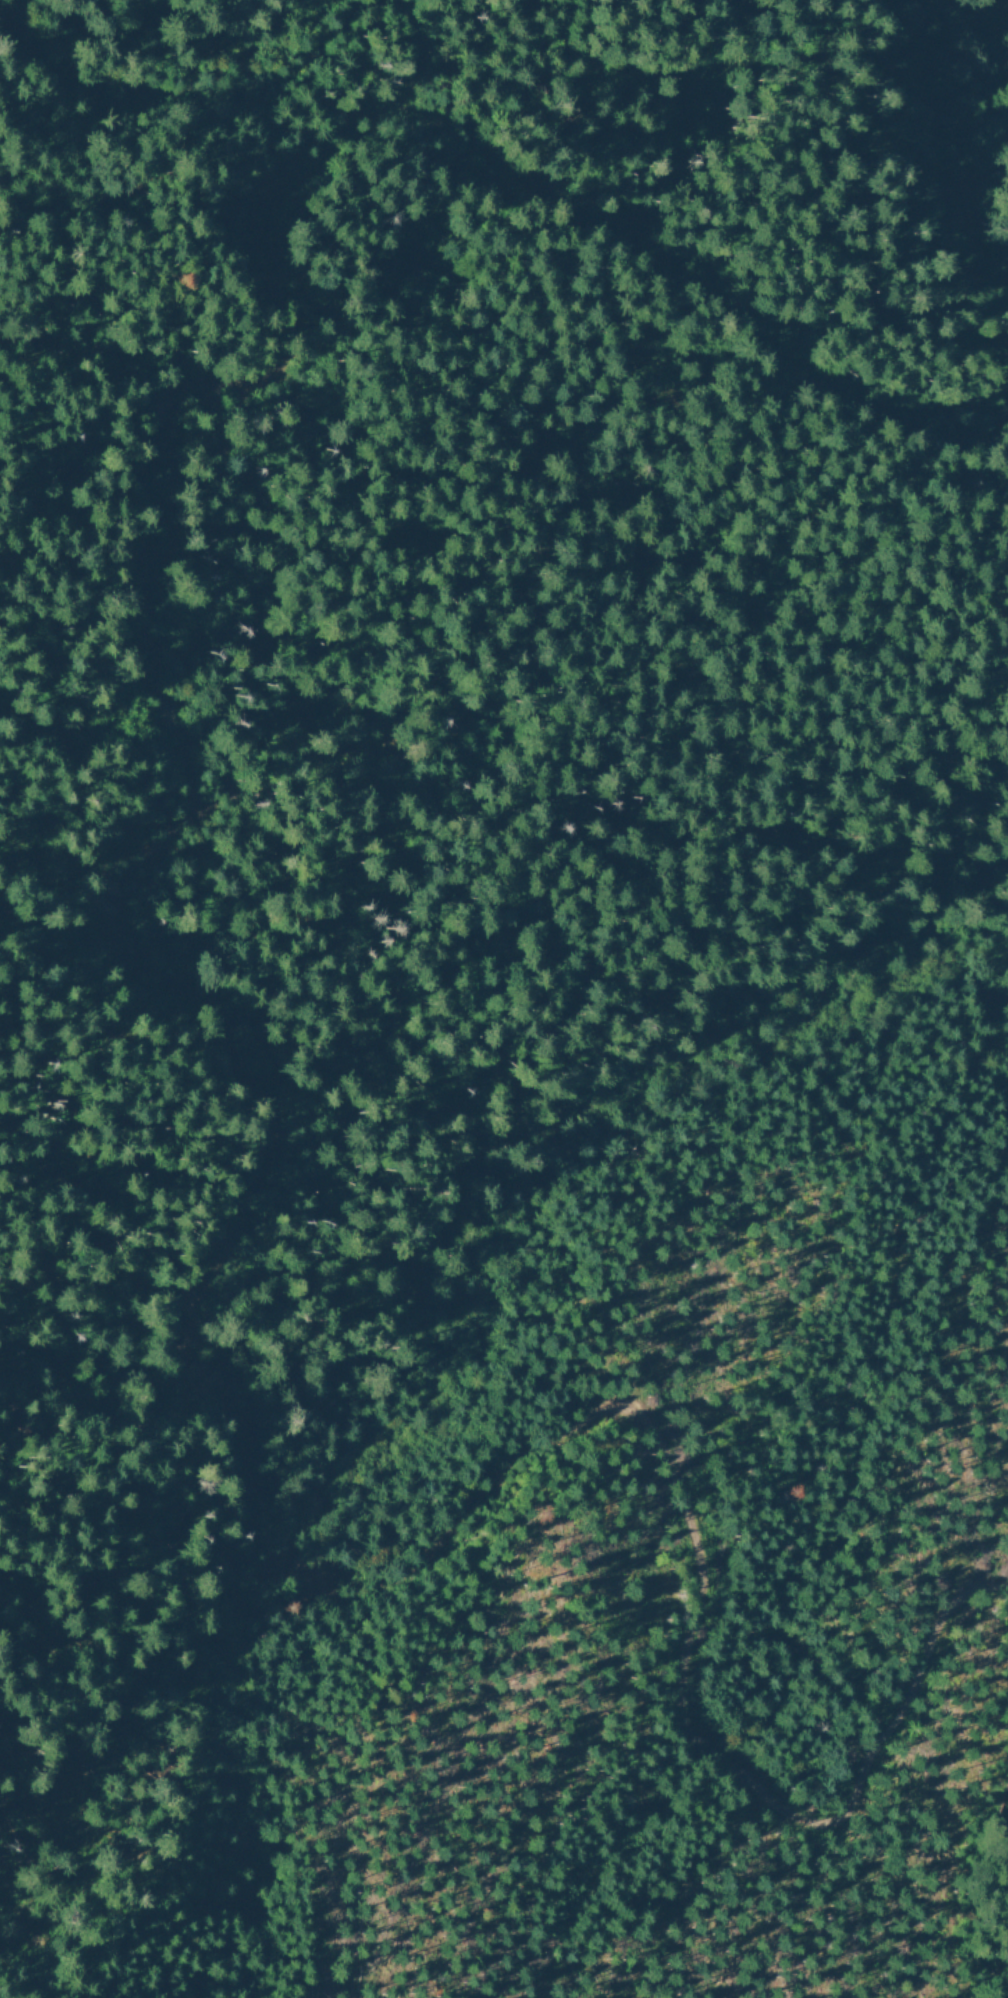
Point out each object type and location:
road: (987, 117)
road: (215, 187)
road: (703, 322)
road: (317, 1151)

